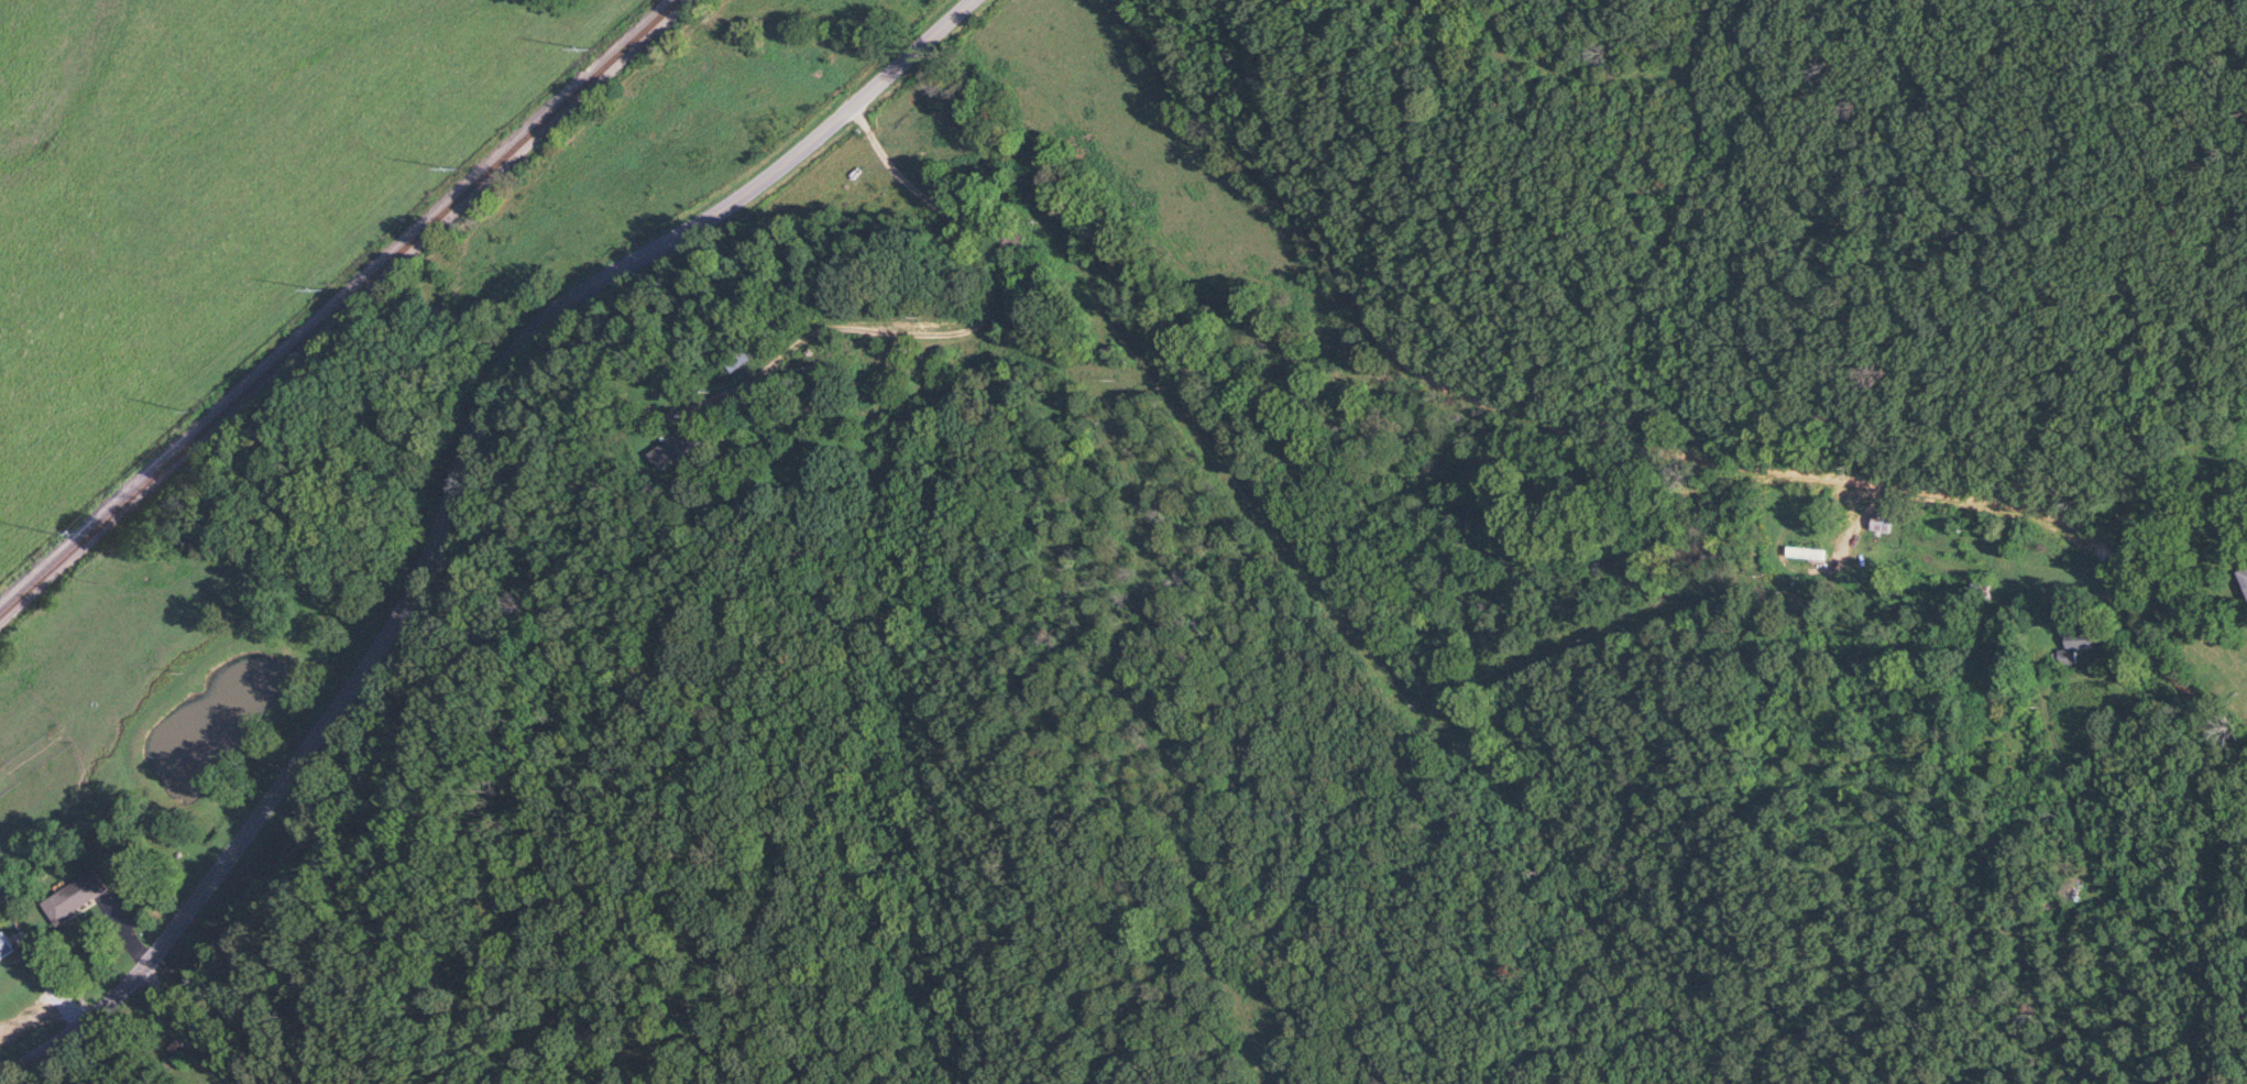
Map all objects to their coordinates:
road: (1537, 72)
road: (1676, 239)
railway: (340, 308)
road: (956, 319)
building: (741, 361)
road: (1655, 447)
building: (677, 448)
road: (446, 496)
building: (1882, 524)
building: (2245, 576)
road: (2167, 592)
building: (2079, 645)
building: (73, 897)
building: (3, 946)
road: (182, 1028)

